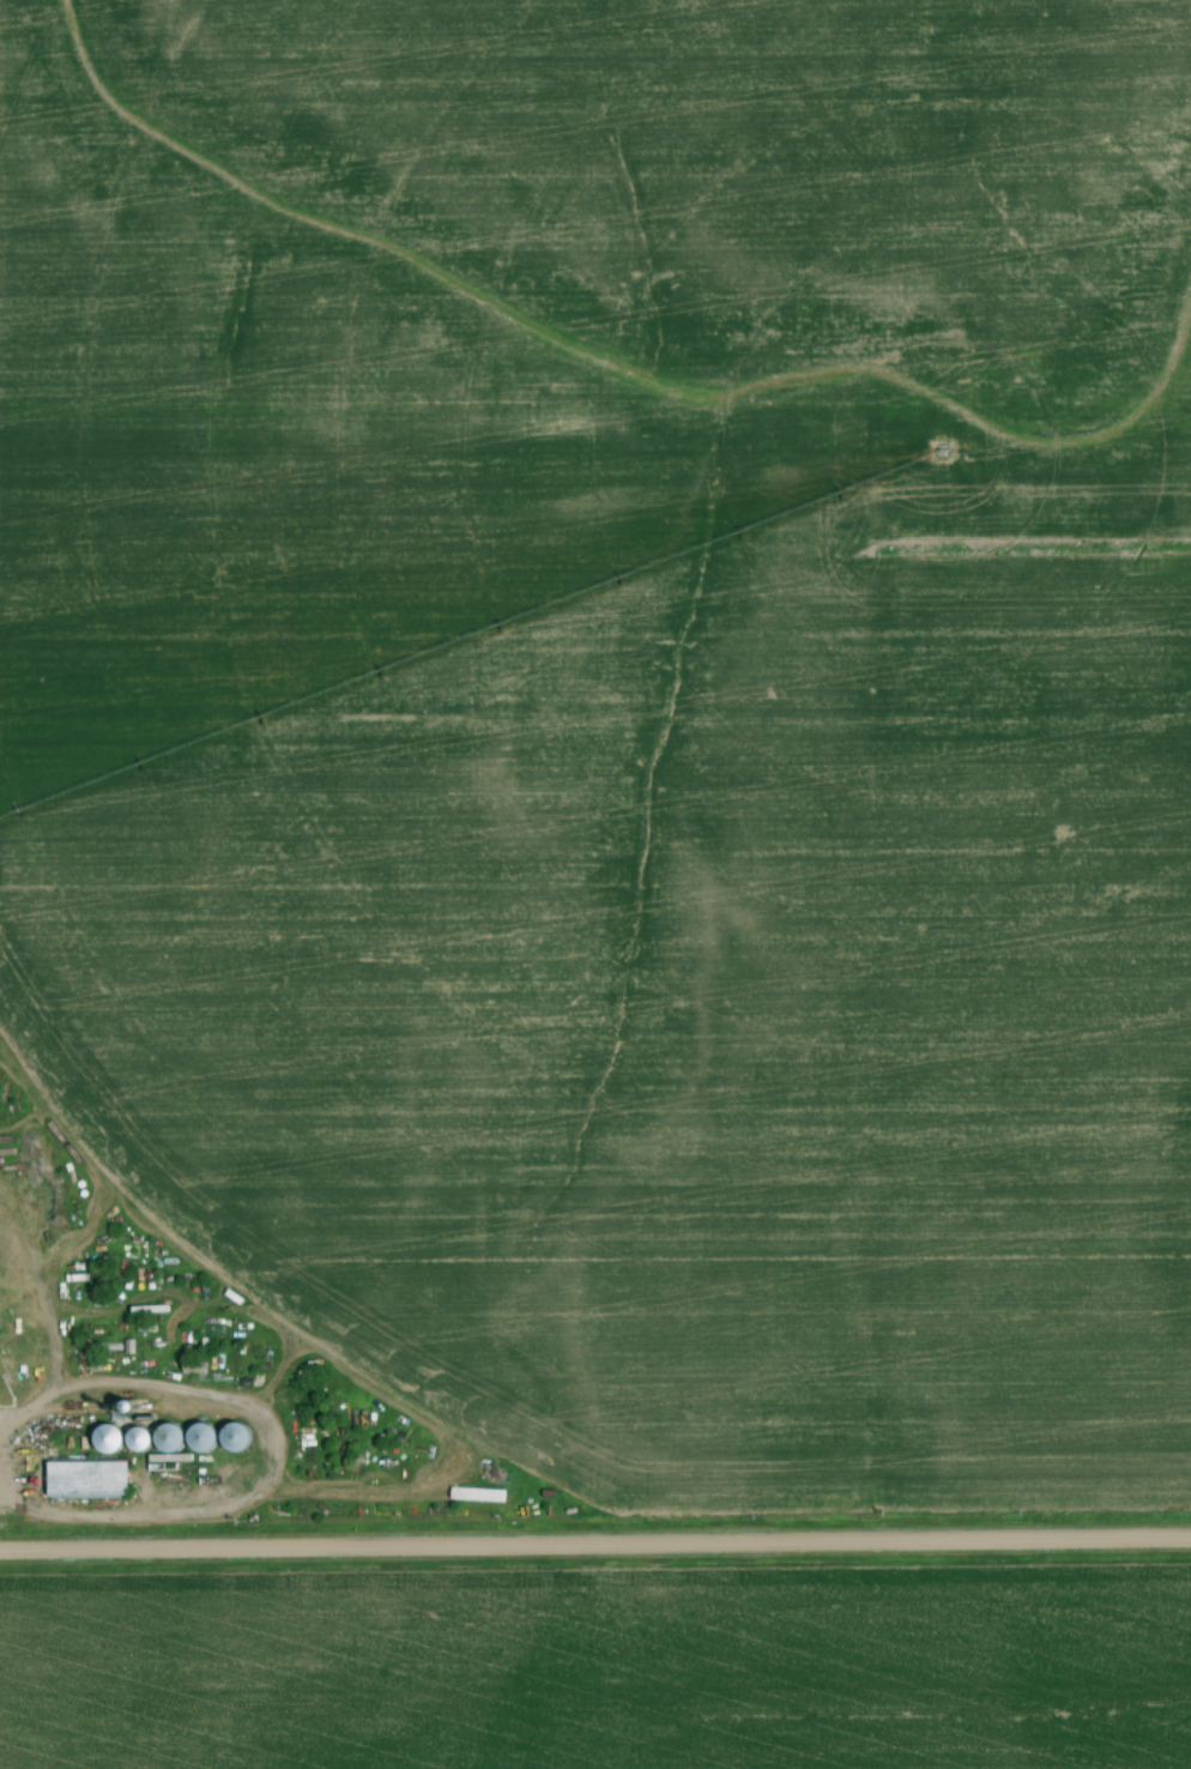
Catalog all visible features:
building: (8, 1375)
road: (29, 1420)
building: (135, 1439)
building: (165, 1439)
building: (199, 1439)
building: (231, 1439)
building: (104, 1441)
building: (79, 1483)
road: (595, 1548)

